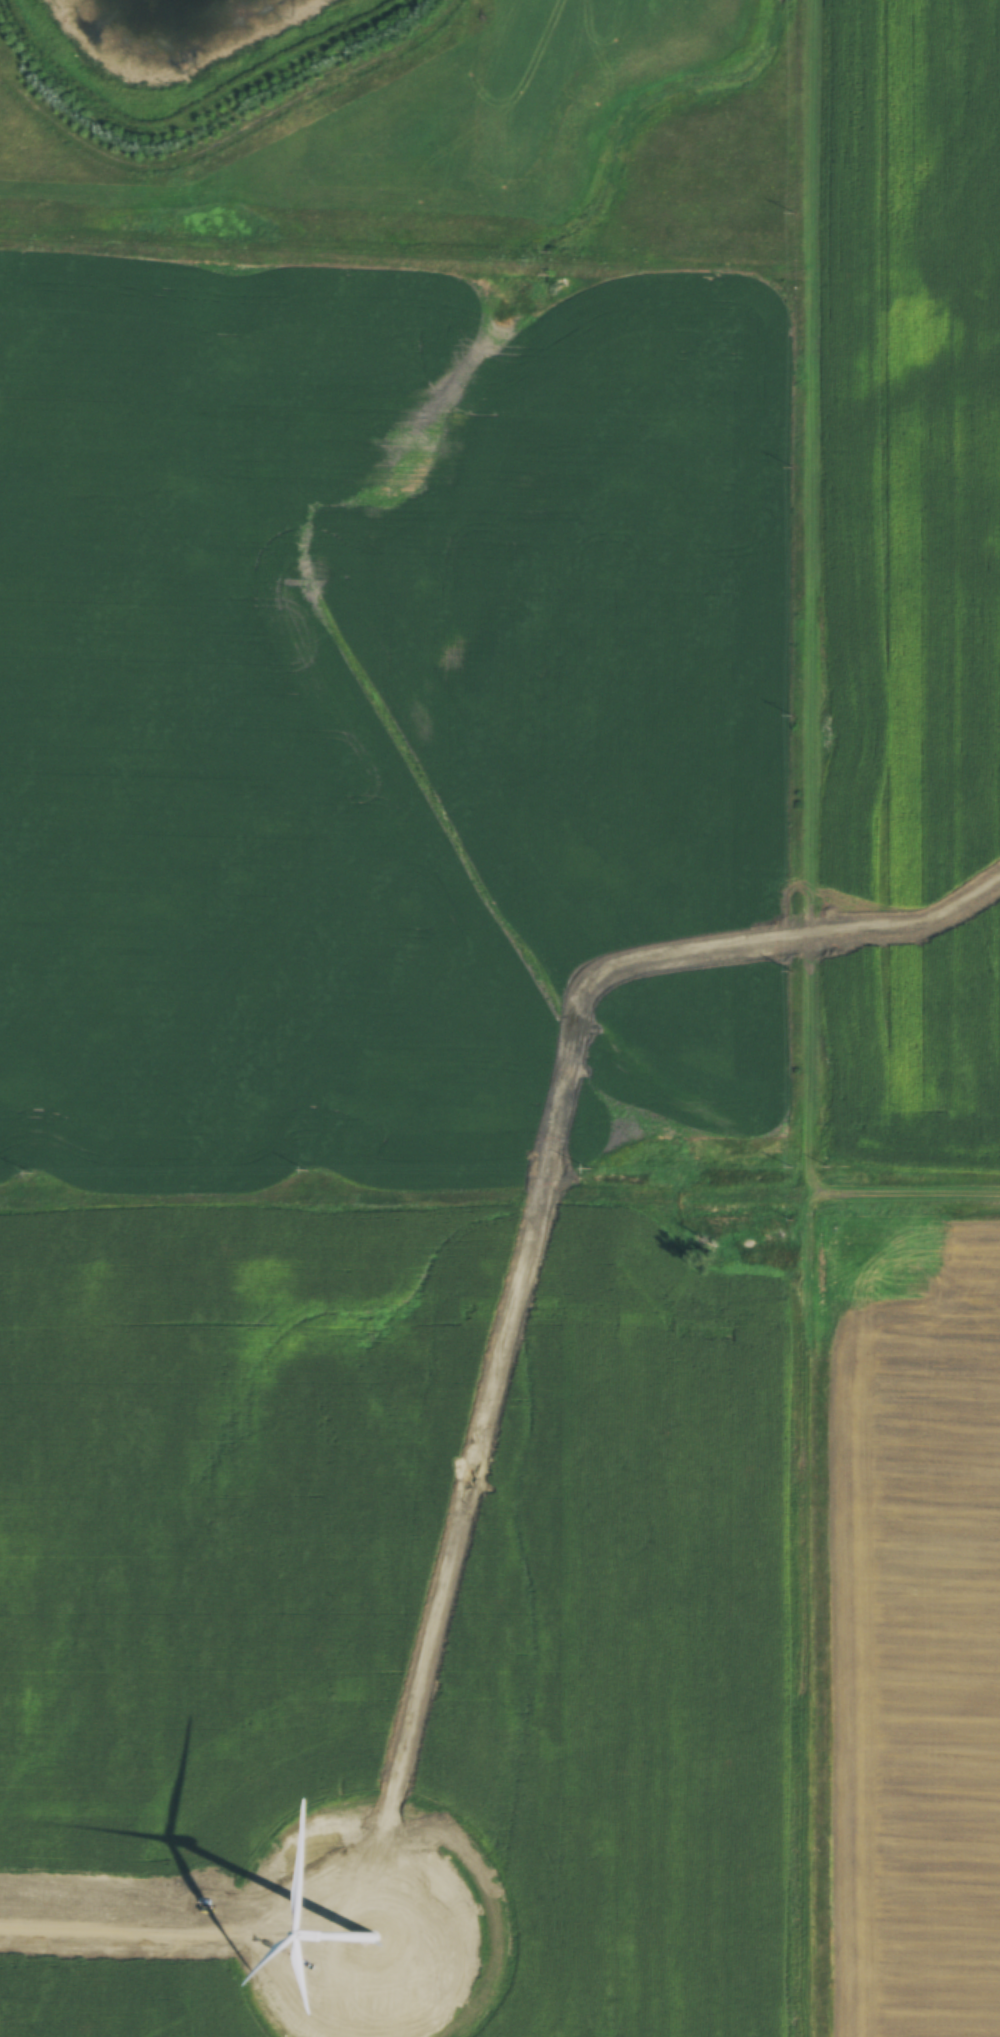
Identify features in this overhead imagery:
wind turbine: (358, 1918)

